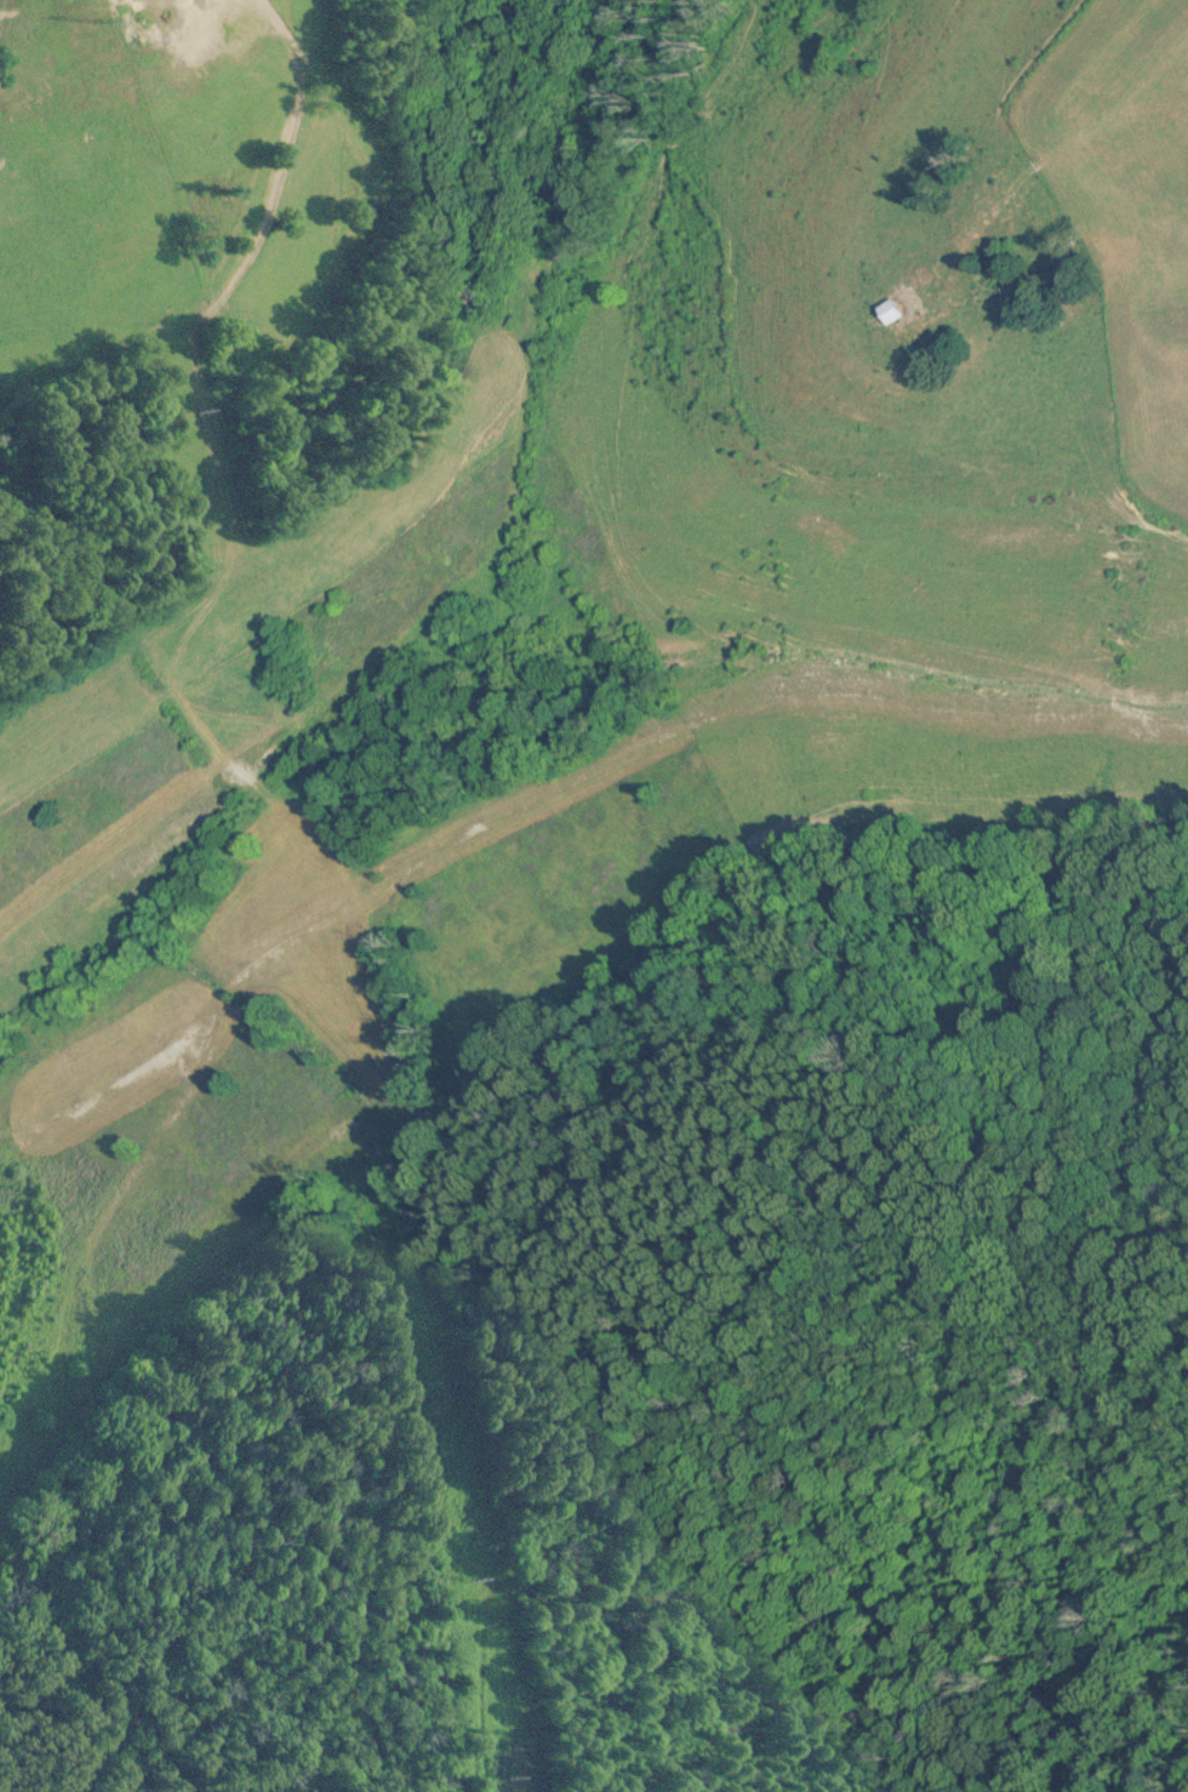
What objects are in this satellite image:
building: (899, 313)

